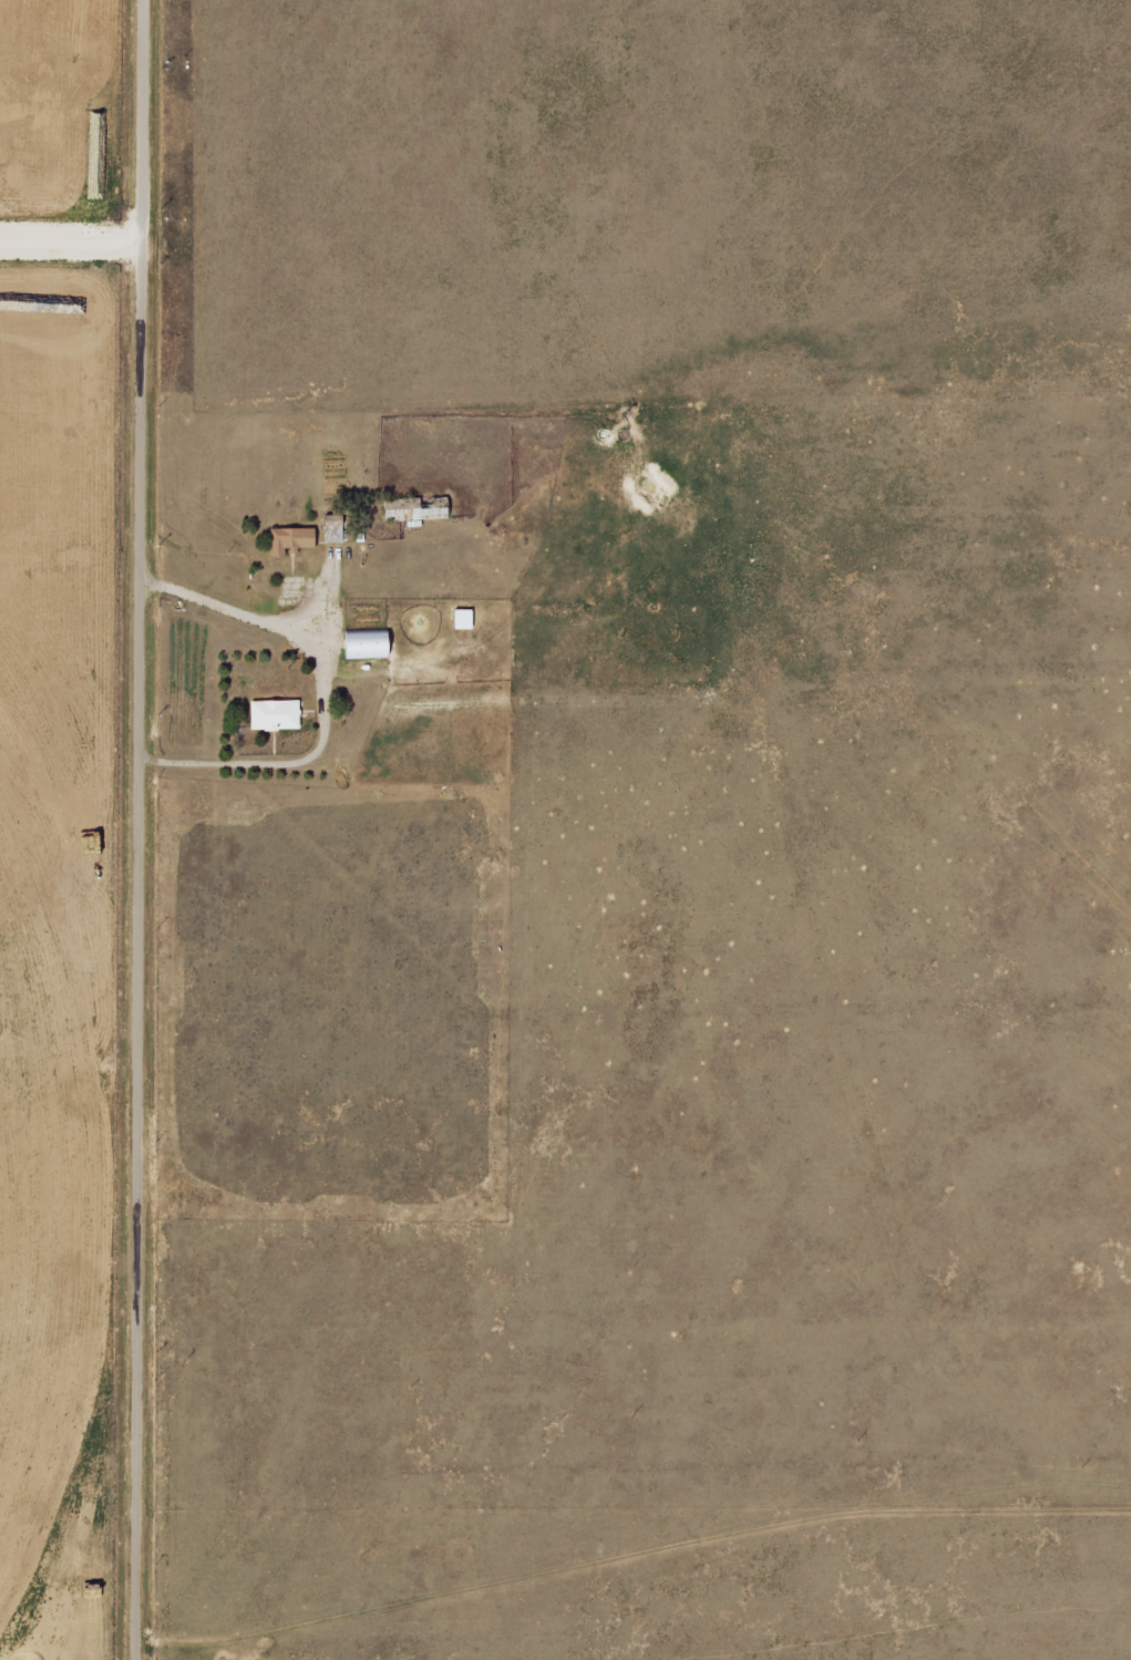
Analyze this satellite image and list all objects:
road: (146, 829)

